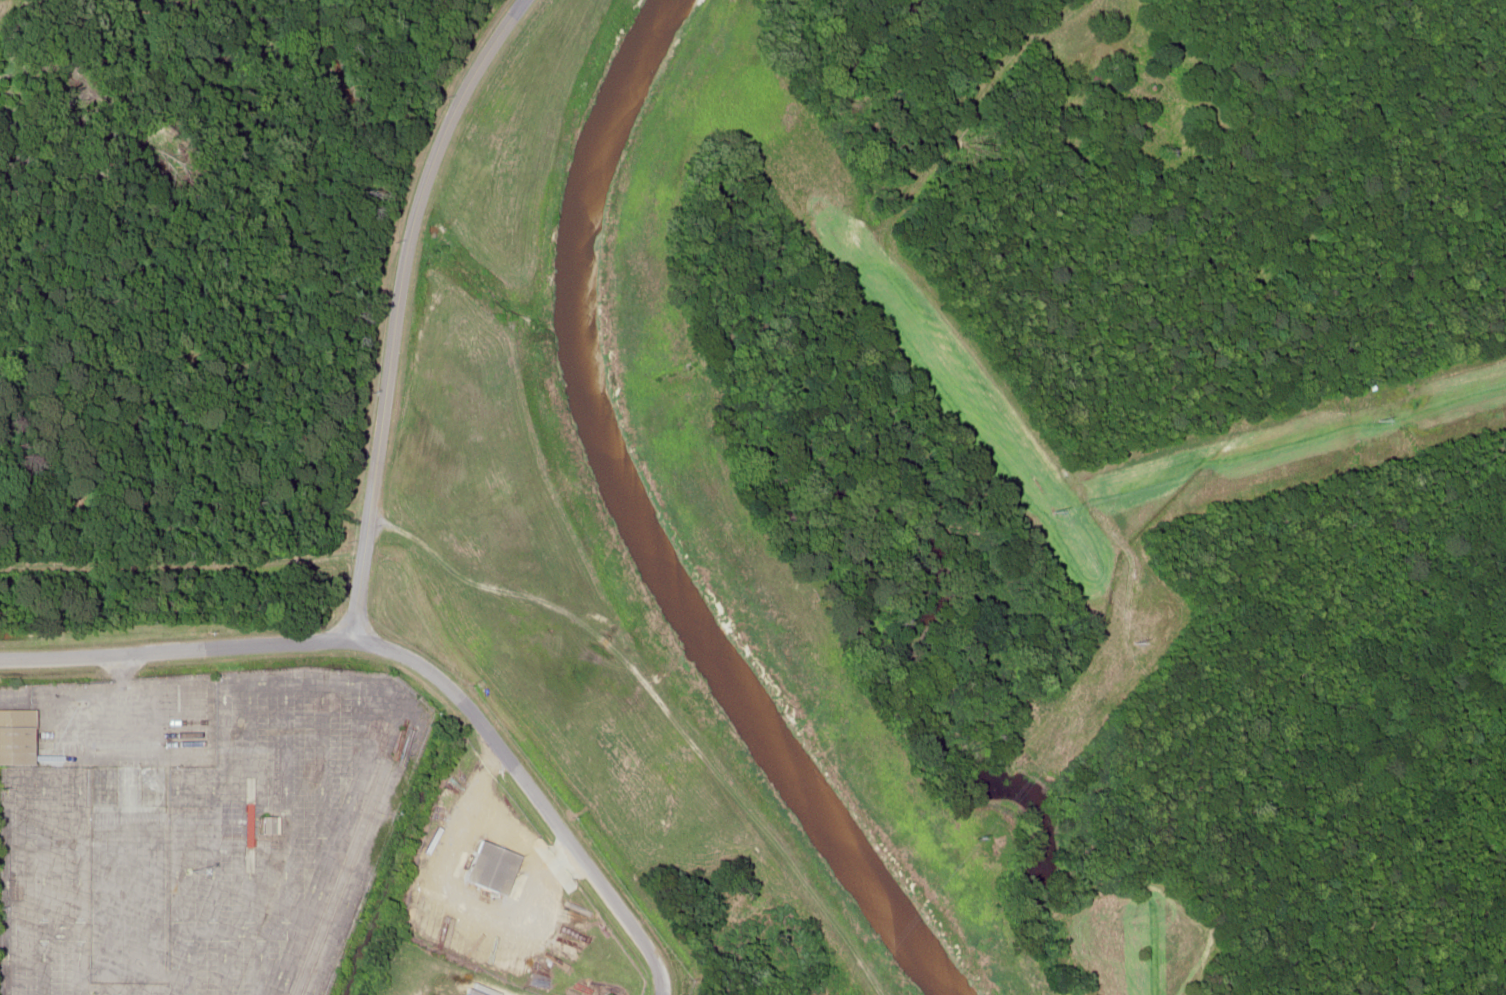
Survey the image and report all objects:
road: (387, 306)
road: (197, 647)
building: (14, 735)
road: (547, 808)
railway: (350, 858)
building: (489, 867)
railway: (1496, 972)

